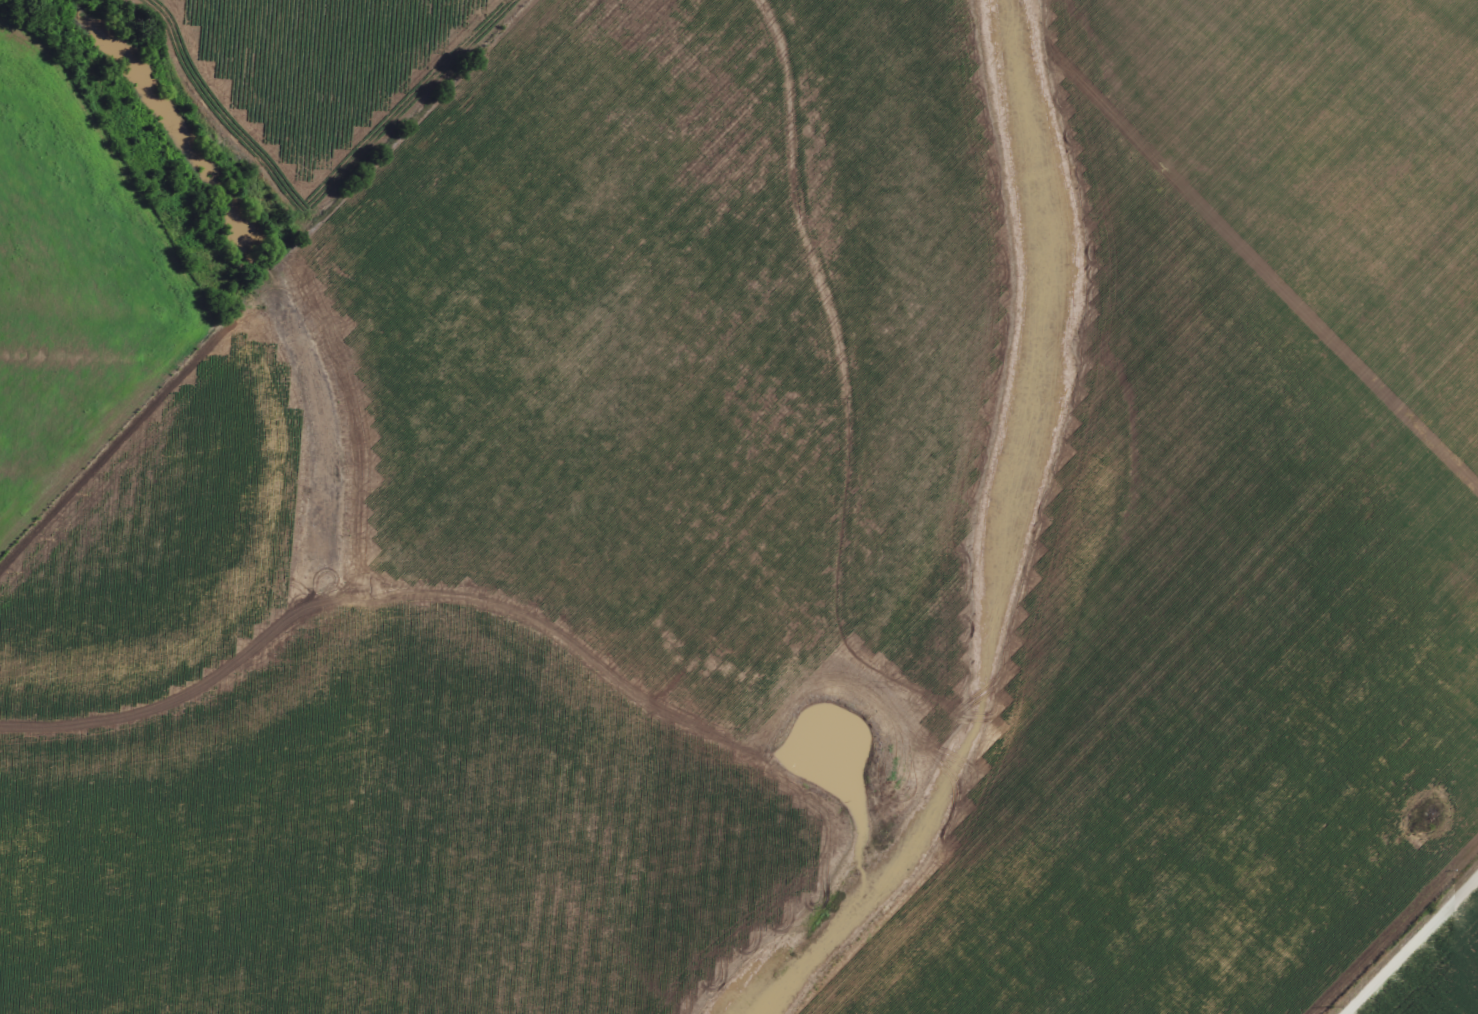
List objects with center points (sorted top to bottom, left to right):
road: (1418, 952)

